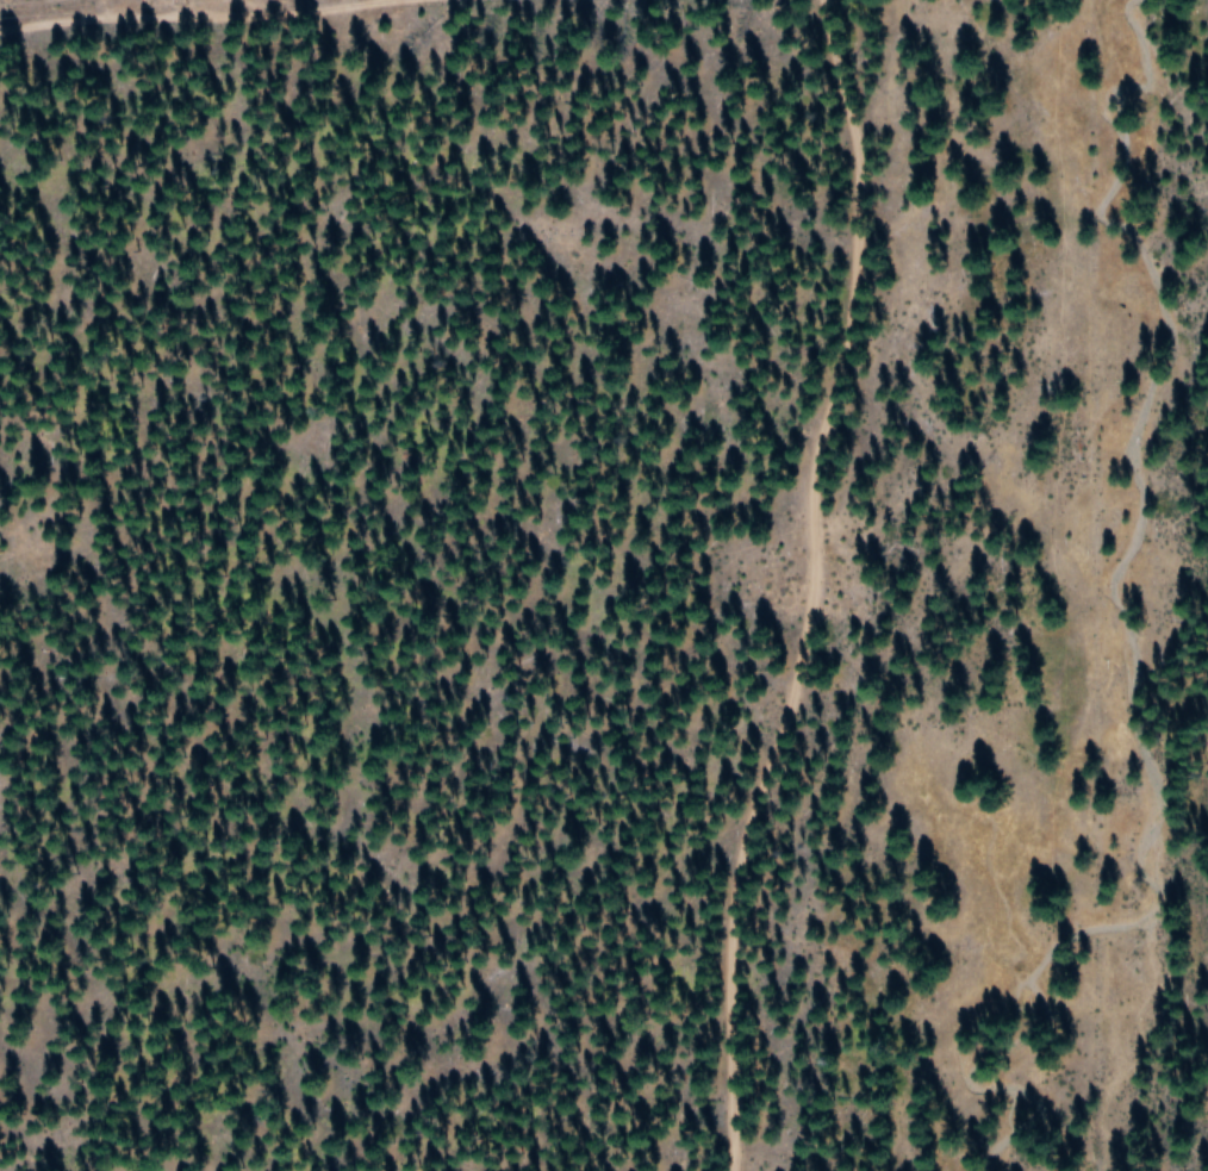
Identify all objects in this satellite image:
road: (812, 587)

